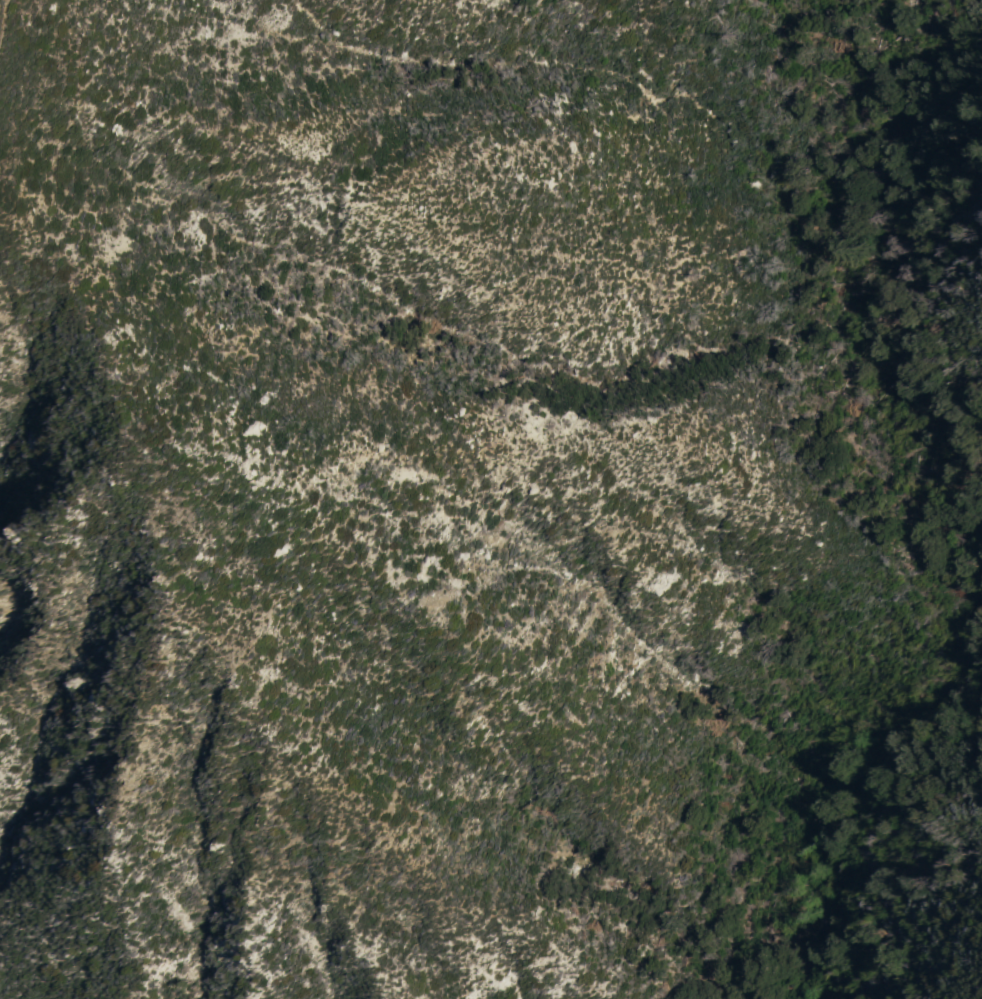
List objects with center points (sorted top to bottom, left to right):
road: (3, 17)

